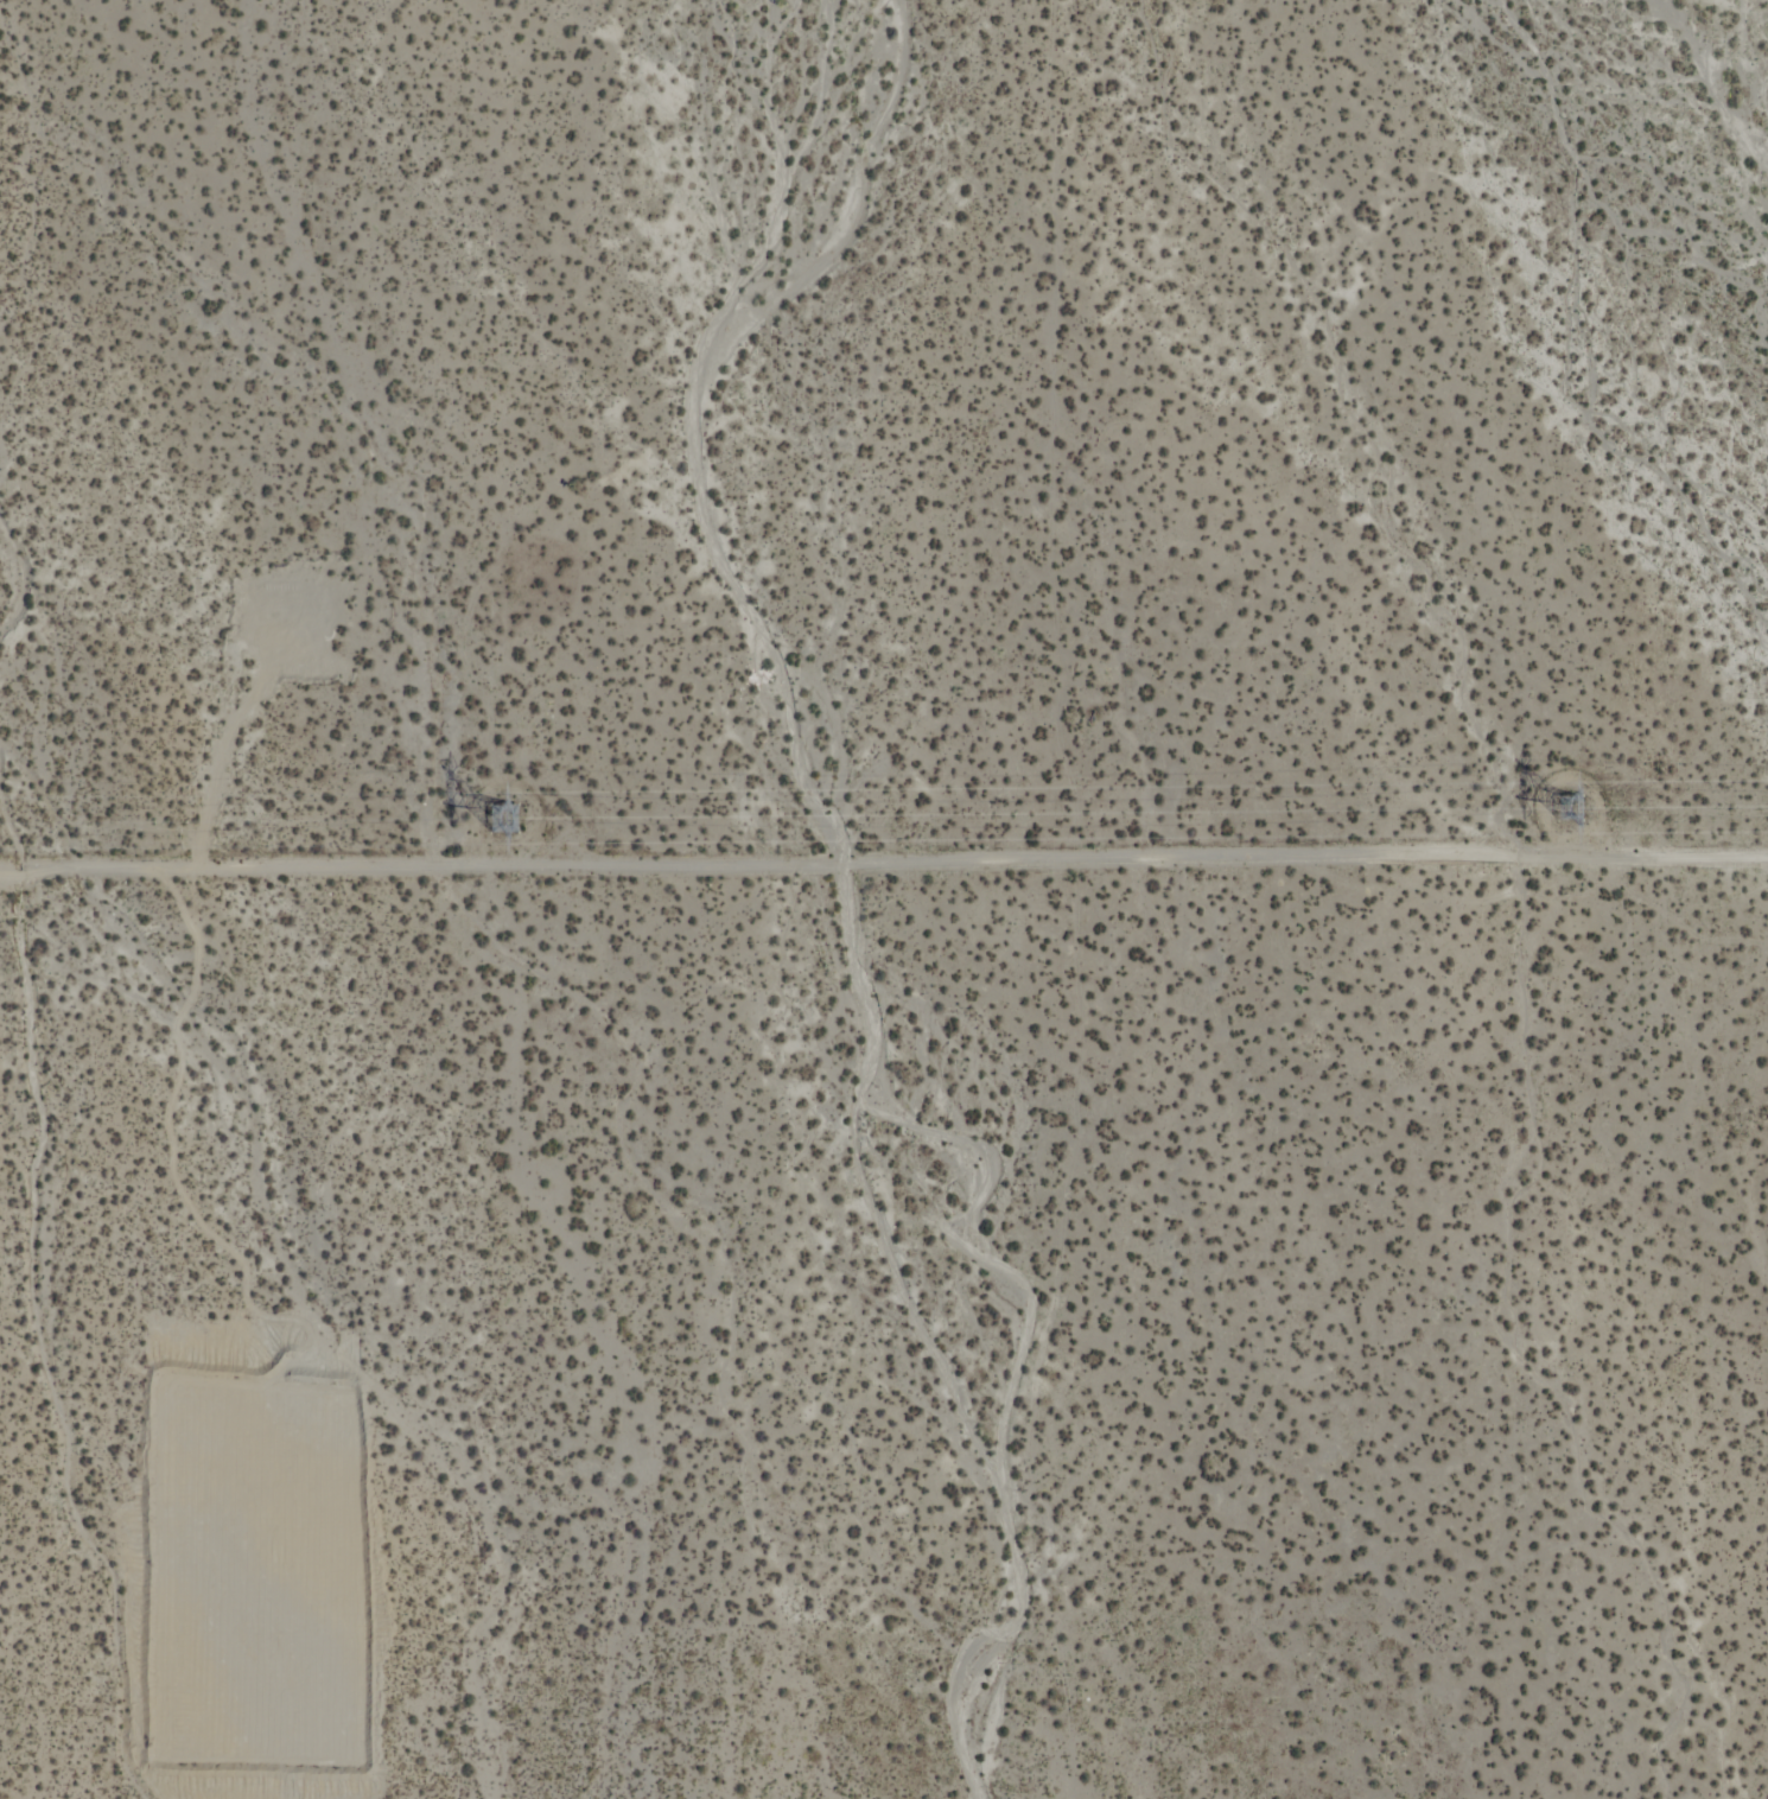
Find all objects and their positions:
power tower: (527, 808)
power tower: (1600, 812)
road: (884, 867)

